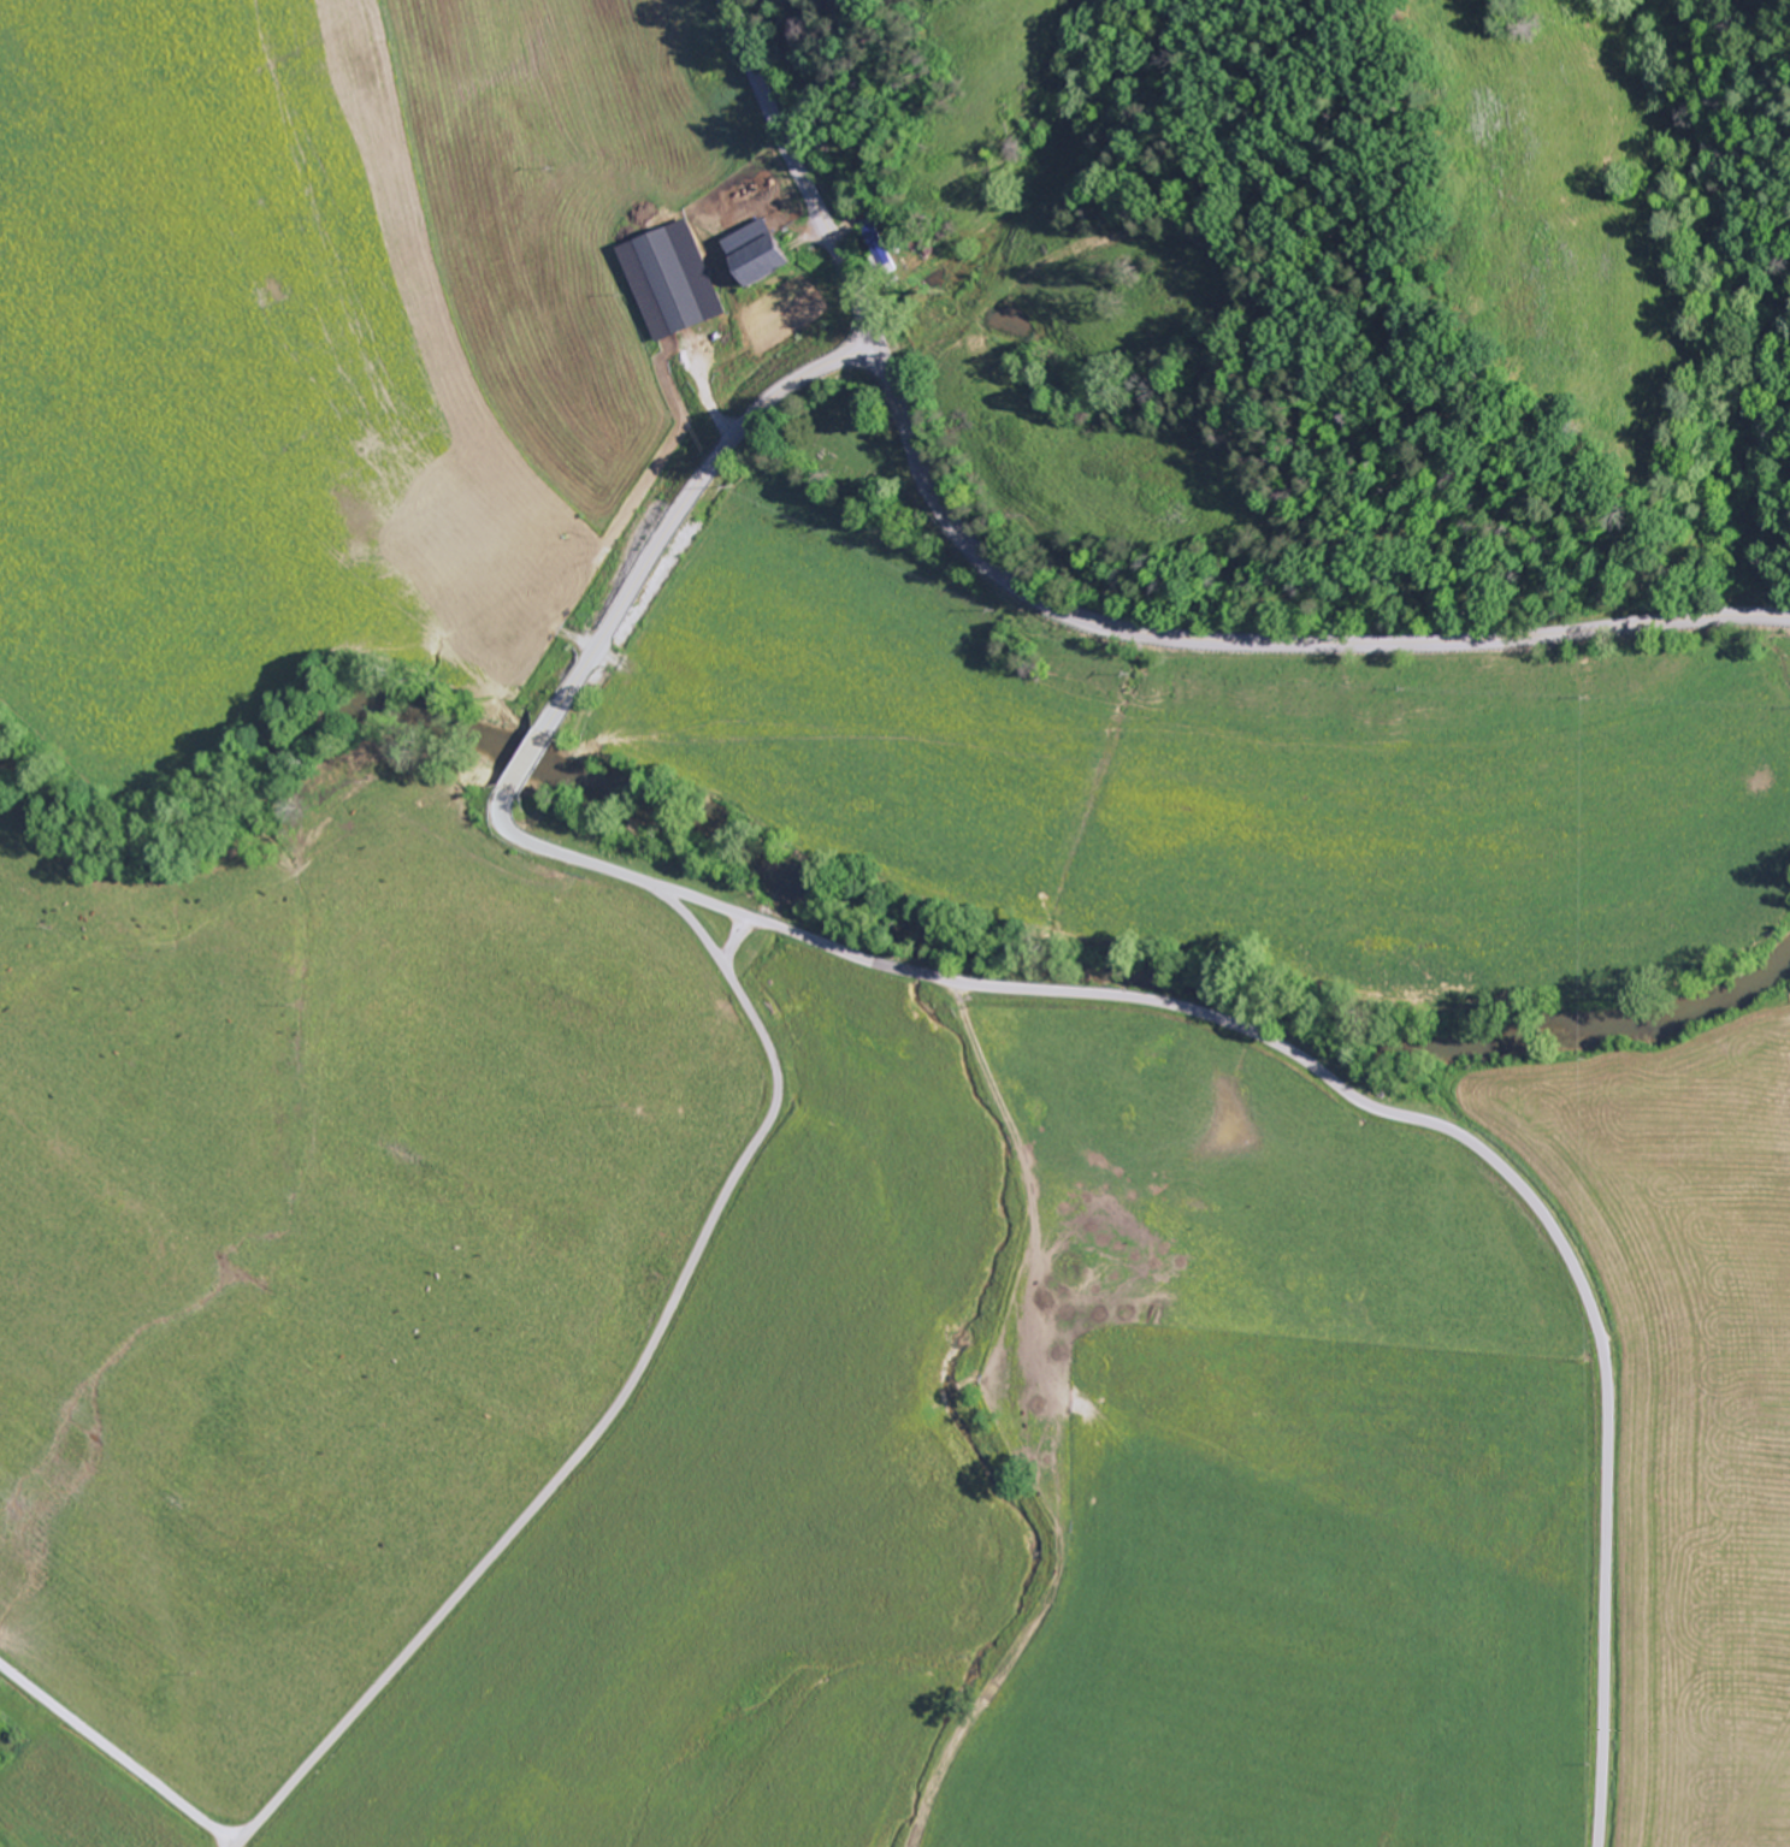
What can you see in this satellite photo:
building: (880, 242)
building: (674, 283)
road: (855, 360)
road: (702, 487)
road: (1071, 611)
road: (525, 762)
river: (846, 898)
road: (736, 937)
road: (1330, 1078)
road: (622, 1396)
road: (116, 1756)

